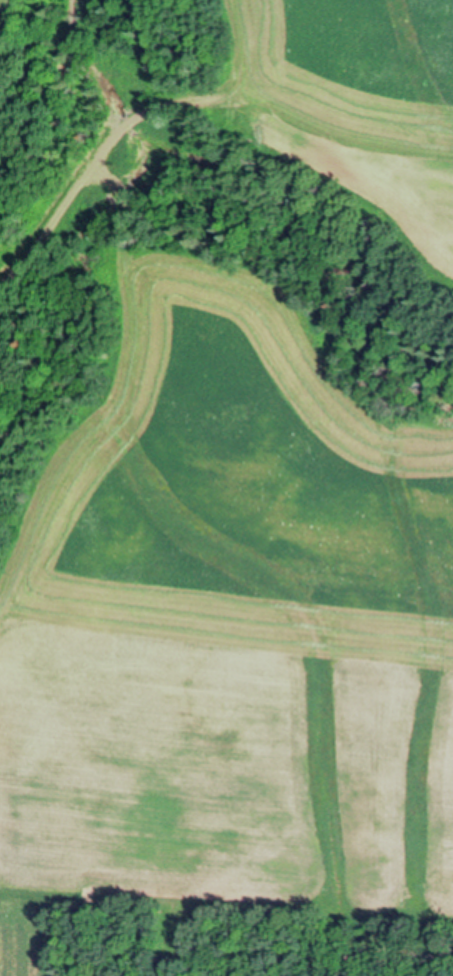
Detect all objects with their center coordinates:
crop: (4, 25)
crop: (353, 104)

